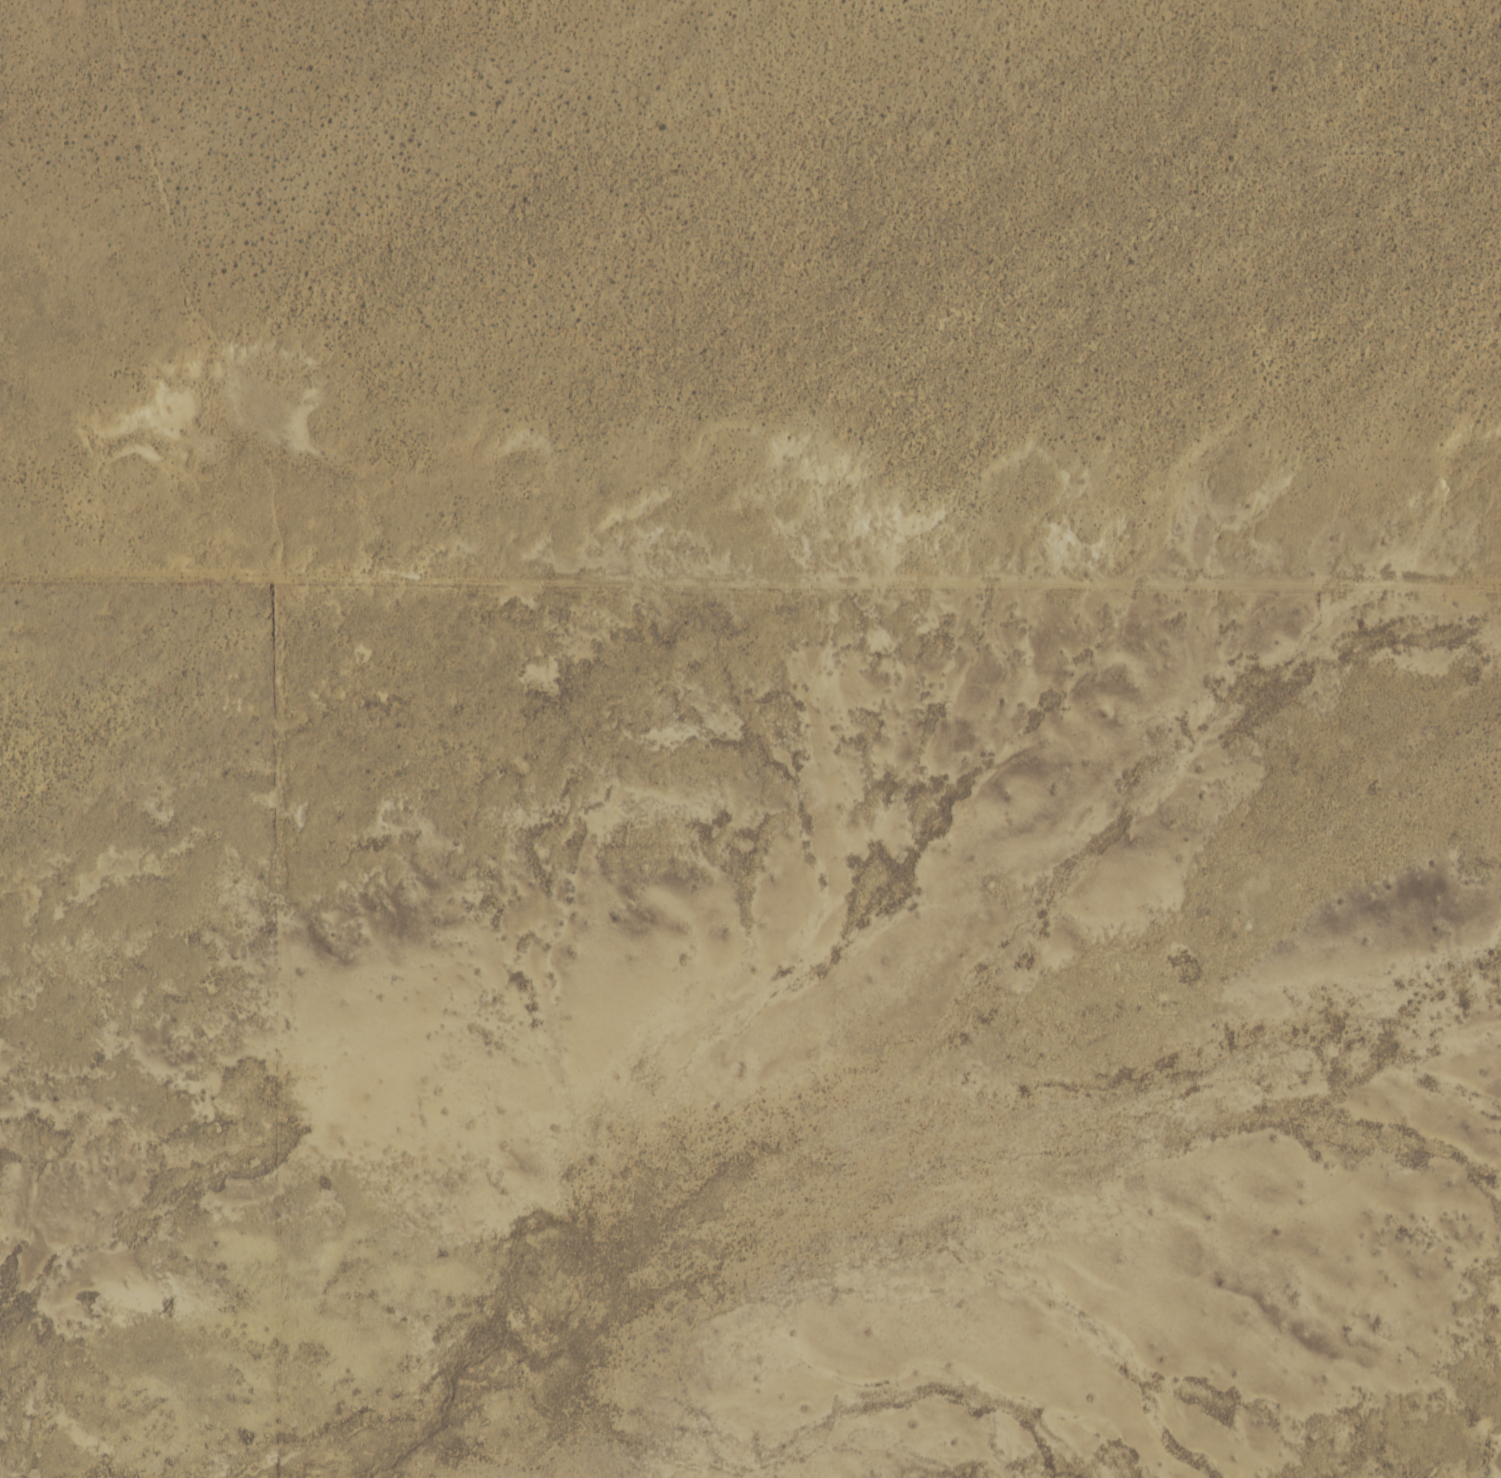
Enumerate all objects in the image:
road: (750, 602)

